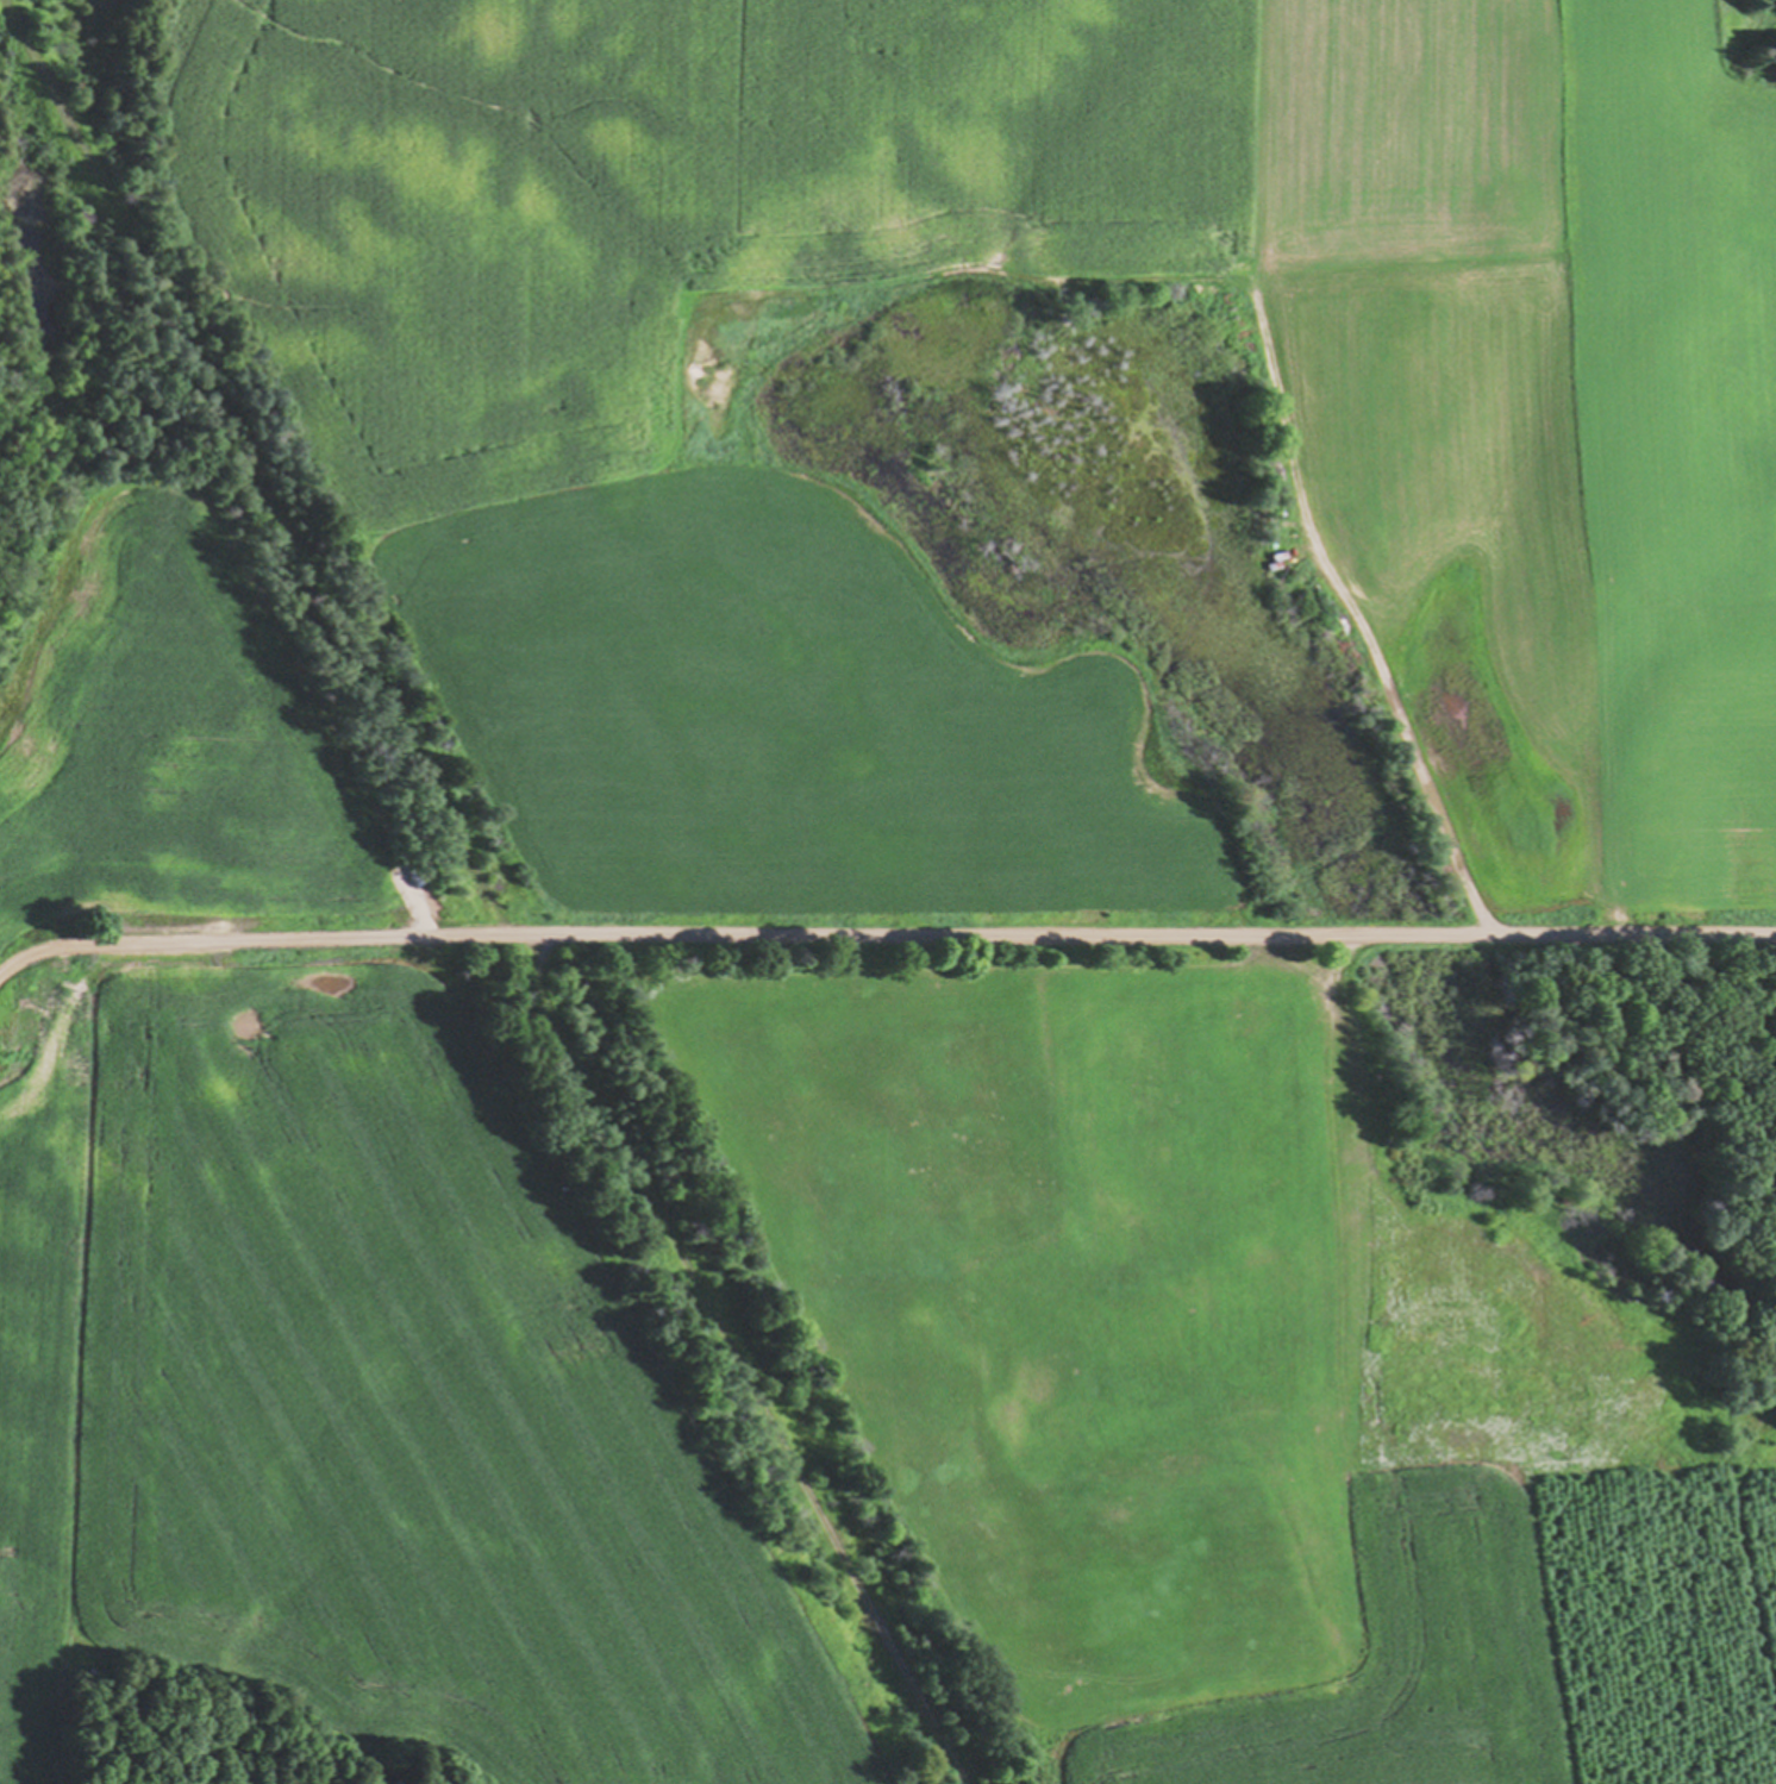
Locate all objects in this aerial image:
road: (251, 468)
road: (1364, 630)
road: (883, 935)
road: (536, 963)
road: (750, 1389)

